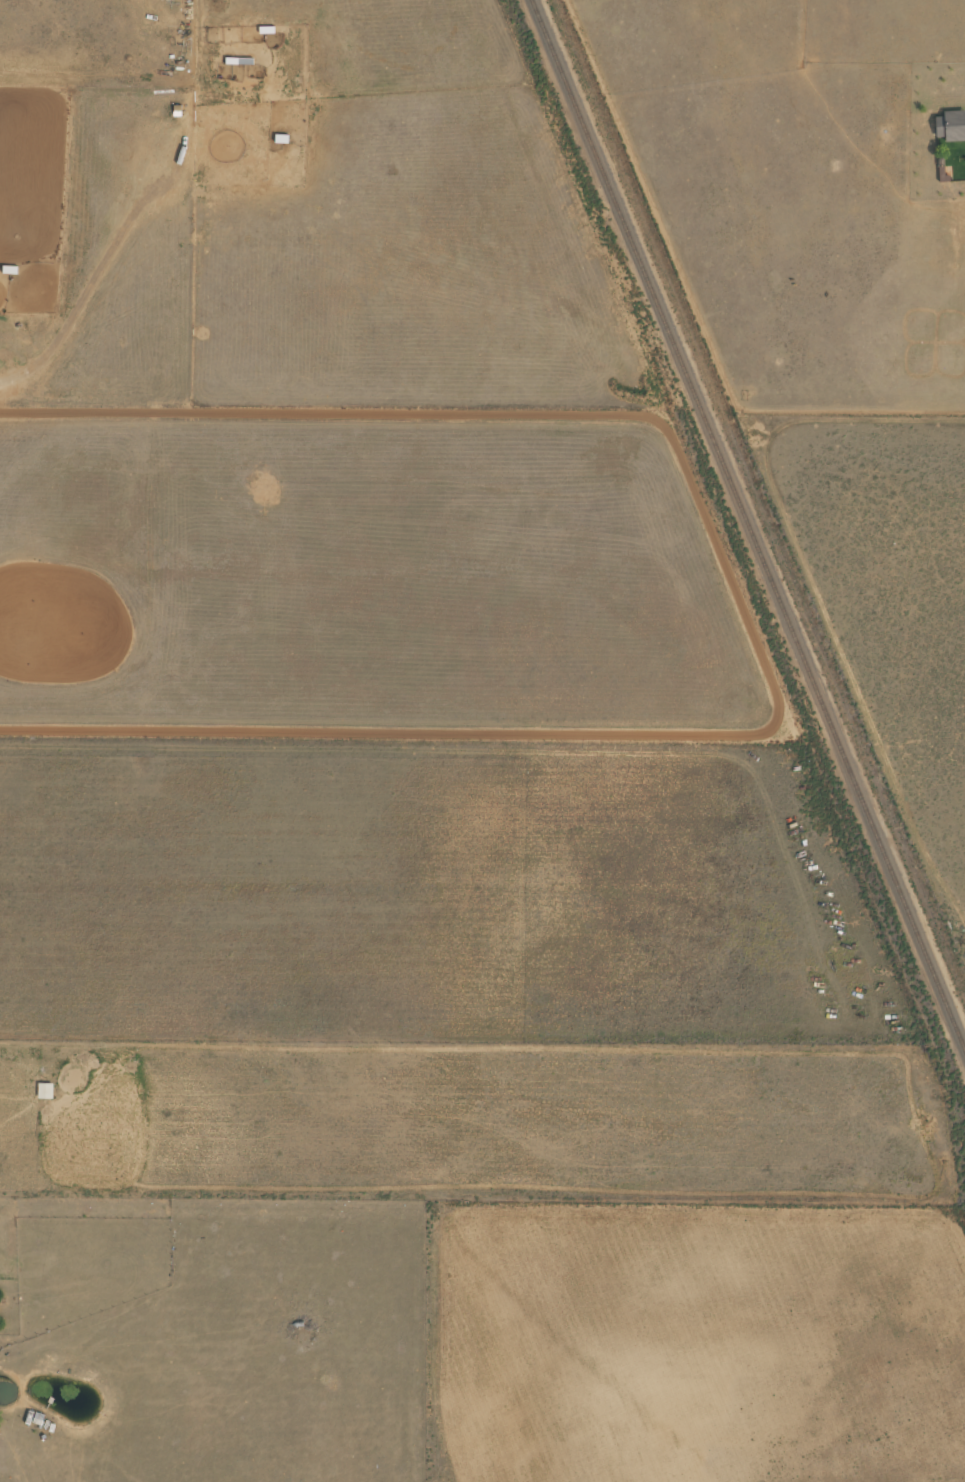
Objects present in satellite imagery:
building: (950, 125)
railway: (749, 524)

